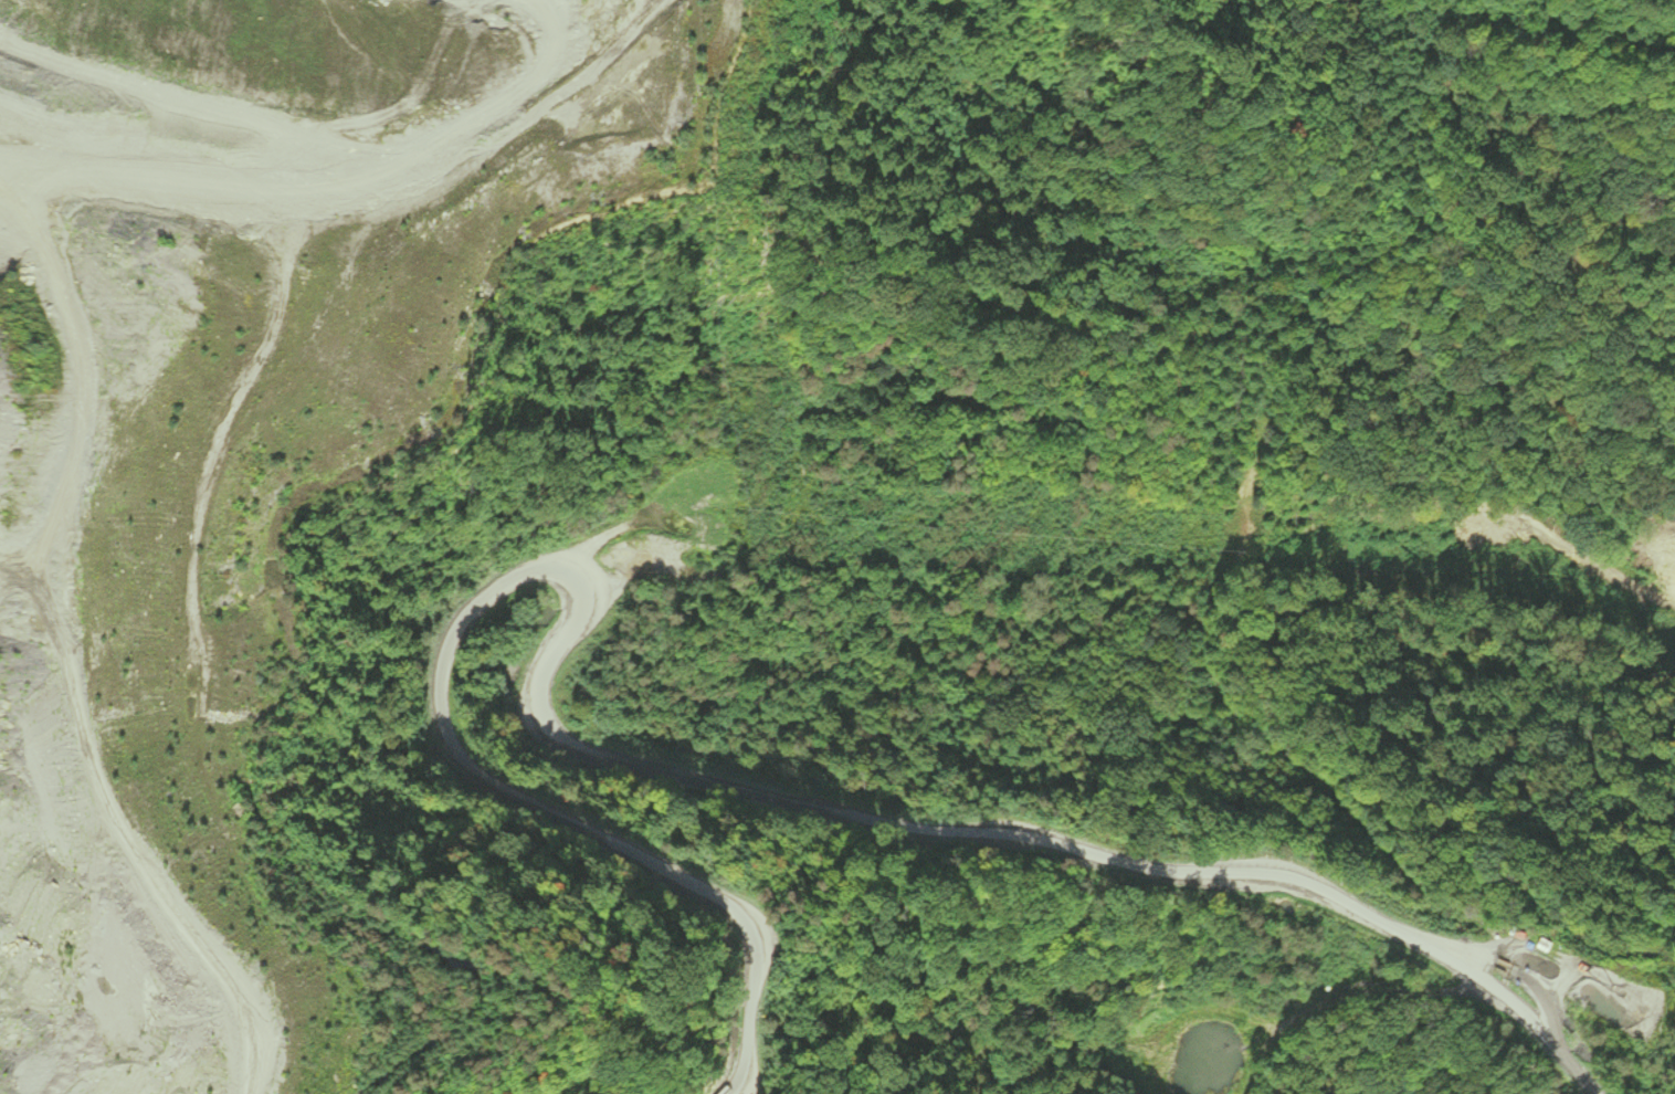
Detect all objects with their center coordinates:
road: (326, 159)
quarry: (274, 415)

